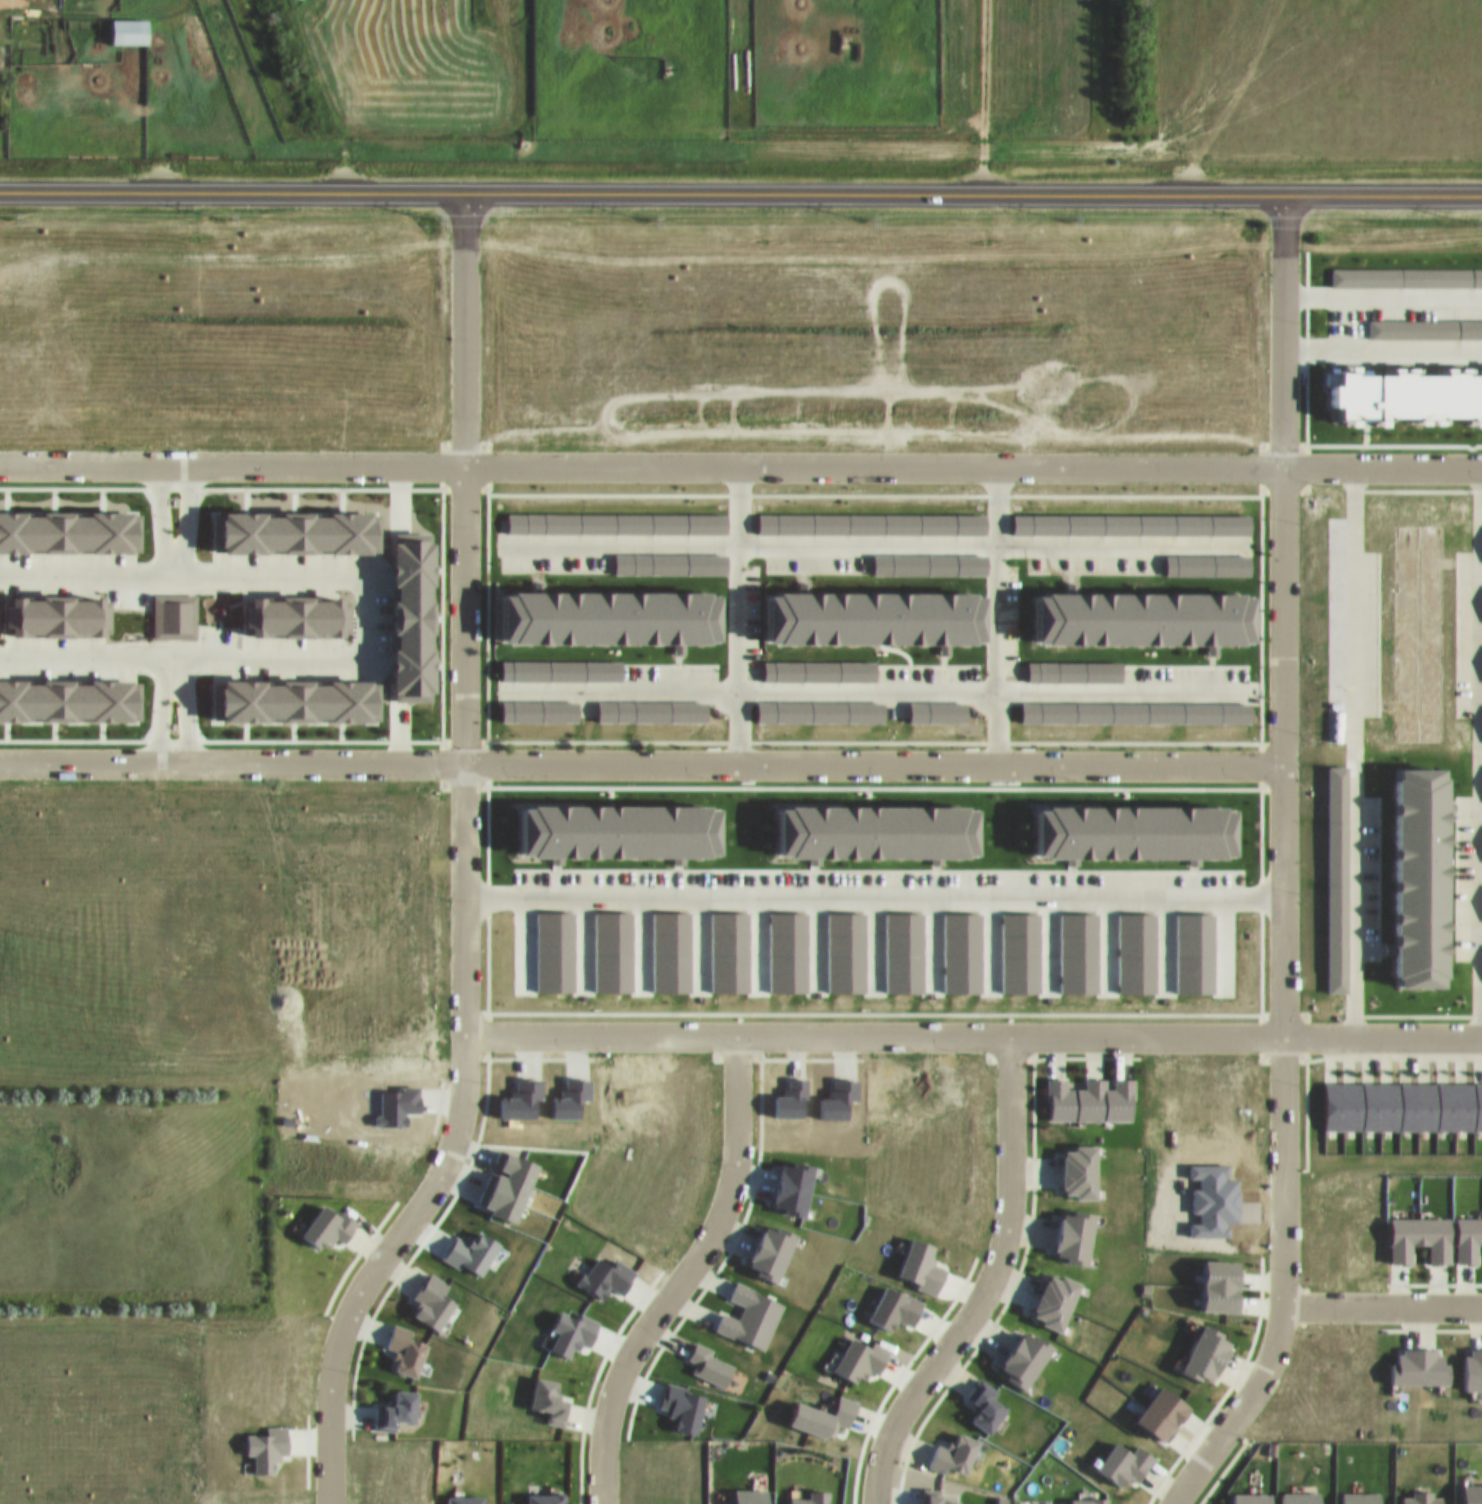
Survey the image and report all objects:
building: (130, 20)
road: (1237, 97)
road: (984, 99)
road: (741, 198)
road: (1286, 220)
road: (740, 465)
road: (161, 507)
road: (184, 507)
road: (873, 540)
road: (173, 562)
road: (365, 613)
road: (738, 613)
road: (996, 613)
road: (172, 664)
road: (873, 687)
road: (186, 717)
road: (160, 718)
road: (1350, 750)
road: (1479, 751)
road: (640, 762)
road: (464, 868)
road: (1282, 892)
road: (873, 893)
road: (972, 1032)
building: (21, 1127)
building: (53, 1149)
road: (690, 1274)
road: (985, 1282)
road: (1382, 1304)

